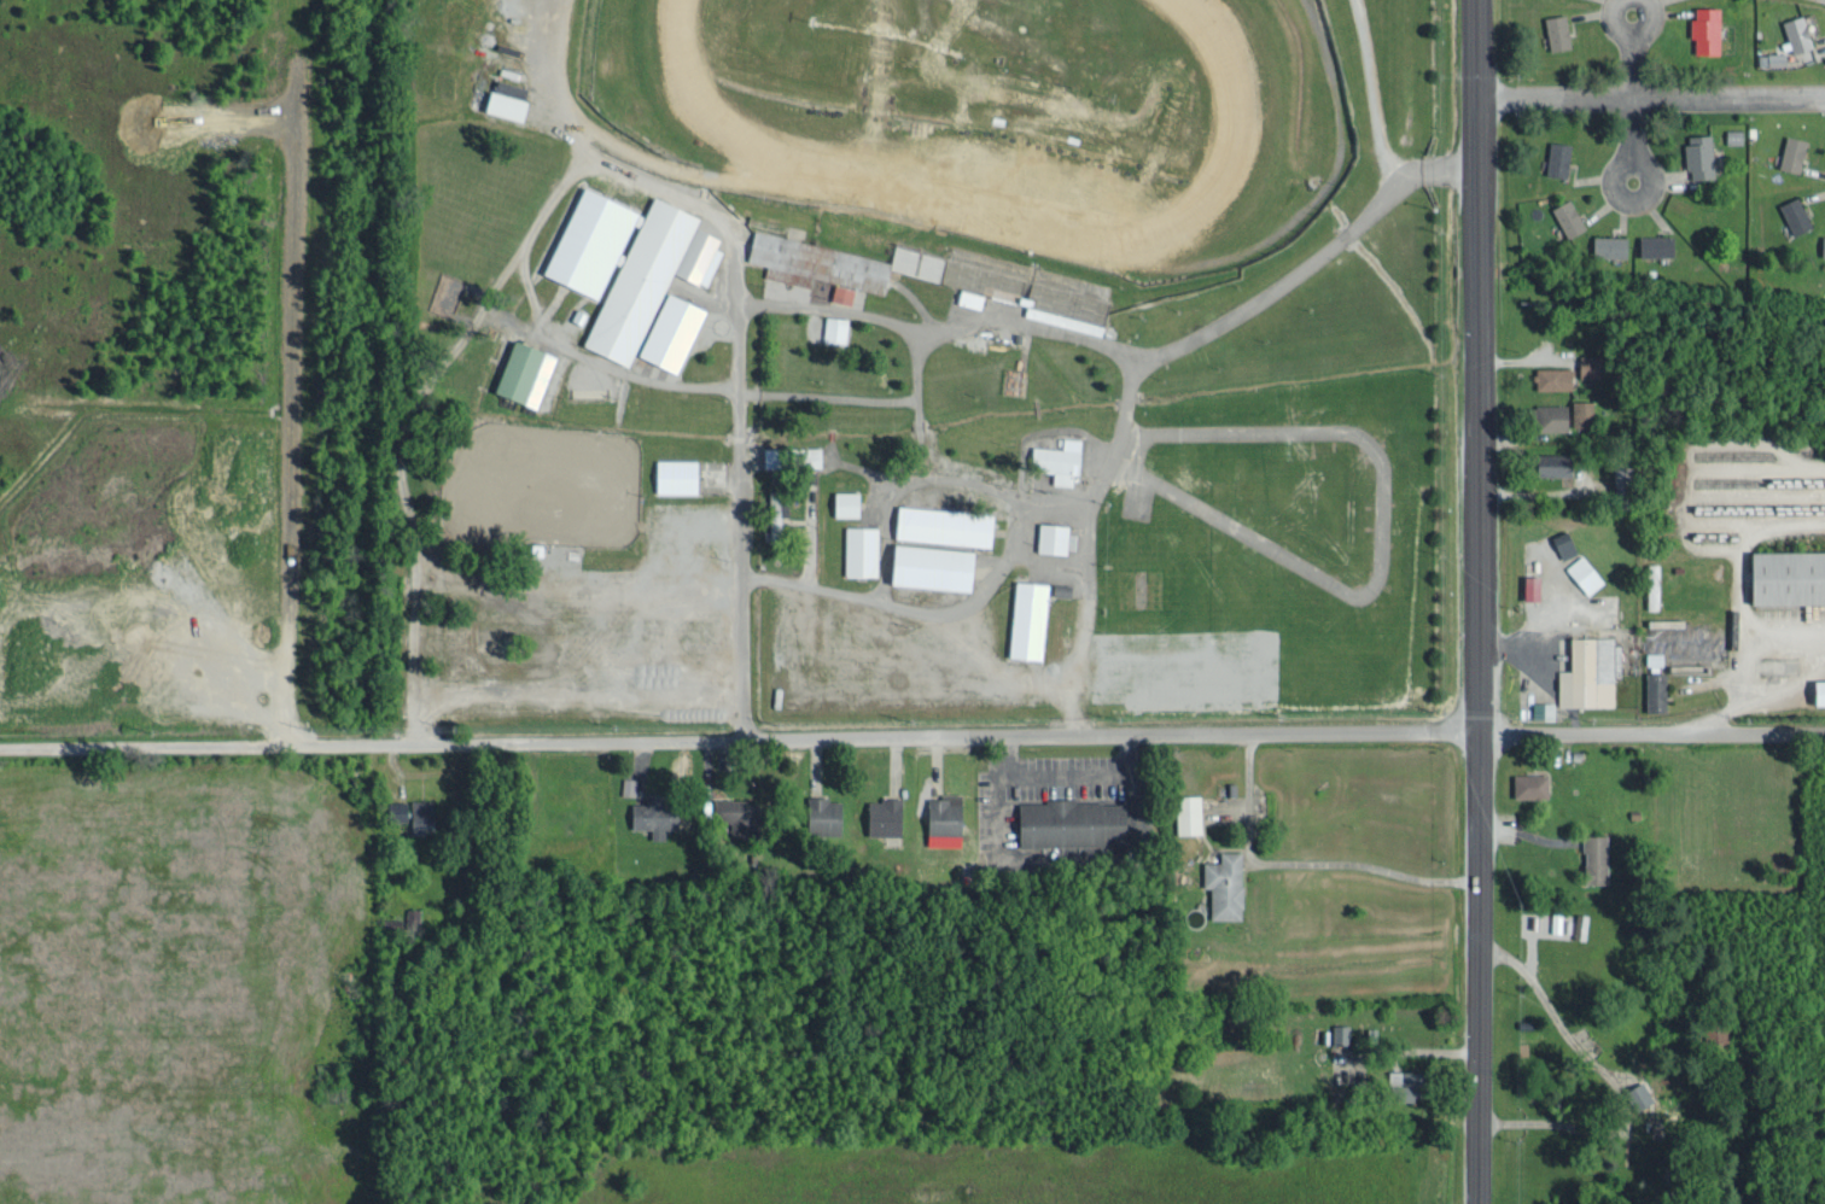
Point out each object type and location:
building: (1707, 28)
building: (1558, 30)
building: (1798, 31)
road: (1631, 53)
building: (1772, 57)
building: (517, 88)
road: (1632, 88)
road: (1649, 95)
building: (509, 104)
road: (1625, 146)
building: (1794, 151)
building: (1701, 154)
building: (1558, 157)
road: (1435, 174)
building: (1796, 214)
building: (1569, 216)
raceway: (1005, 227)
building: (1657, 244)
building: (1823, 244)
building: (1609, 245)
road: (529, 259)
building: (631, 261)
building: (838, 263)
building: (444, 292)
building: (970, 297)
building: (835, 327)
building: (672, 329)
building: (875, 338)
road: (1186, 345)
building: (1039, 353)
road: (1473, 364)
building: (1588, 364)
road: (290, 372)
building: (527, 372)
building: (1553, 376)
building: (1014, 379)
road: (741, 402)
road: (869, 402)
building: (1582, 411)
building: (1552, 415)
road: (1125, 431)
building: (1008, 444)
building: (774, 455)
building: (1061, 458)
building: (1557, 463)
building: (678, 474)
building: (847, 502)
building: (945, 524)
building: (776, 530)
building: (1054, 536)
road: (1383, 542)
building: (1564, 542)
road: (1089, 544)
building: (861, 549)
road: (1008, 557)
road: (886, 565)
building: (937, 565)
building: (1585, 572)
building: (1790, 575)
building: (1533, 585)
building: (1652, 594)
building: (1030, 618)
building: (1590, 672)
building: (1656, 690)
building: (1821, 690)
building: (1544, 708)
road: (1650, 731)
road: (737, 740)
building: (628, 784)
building: (1532, 784)
building: (415, 813)
building: (733, 813)
building: (826, 813)
building: (1190, 813)
building: (655, 814)
building: (886, 814)
building: (945, 814)
building: (1081, 822)
building: (1597, 858)
building: (1226, 883)
building: (412, 916)
building: (1557, 920)
building: (1581, 924)
road: (1475, 966)
building: (1341, 1033)
building: (1413, 1081)

